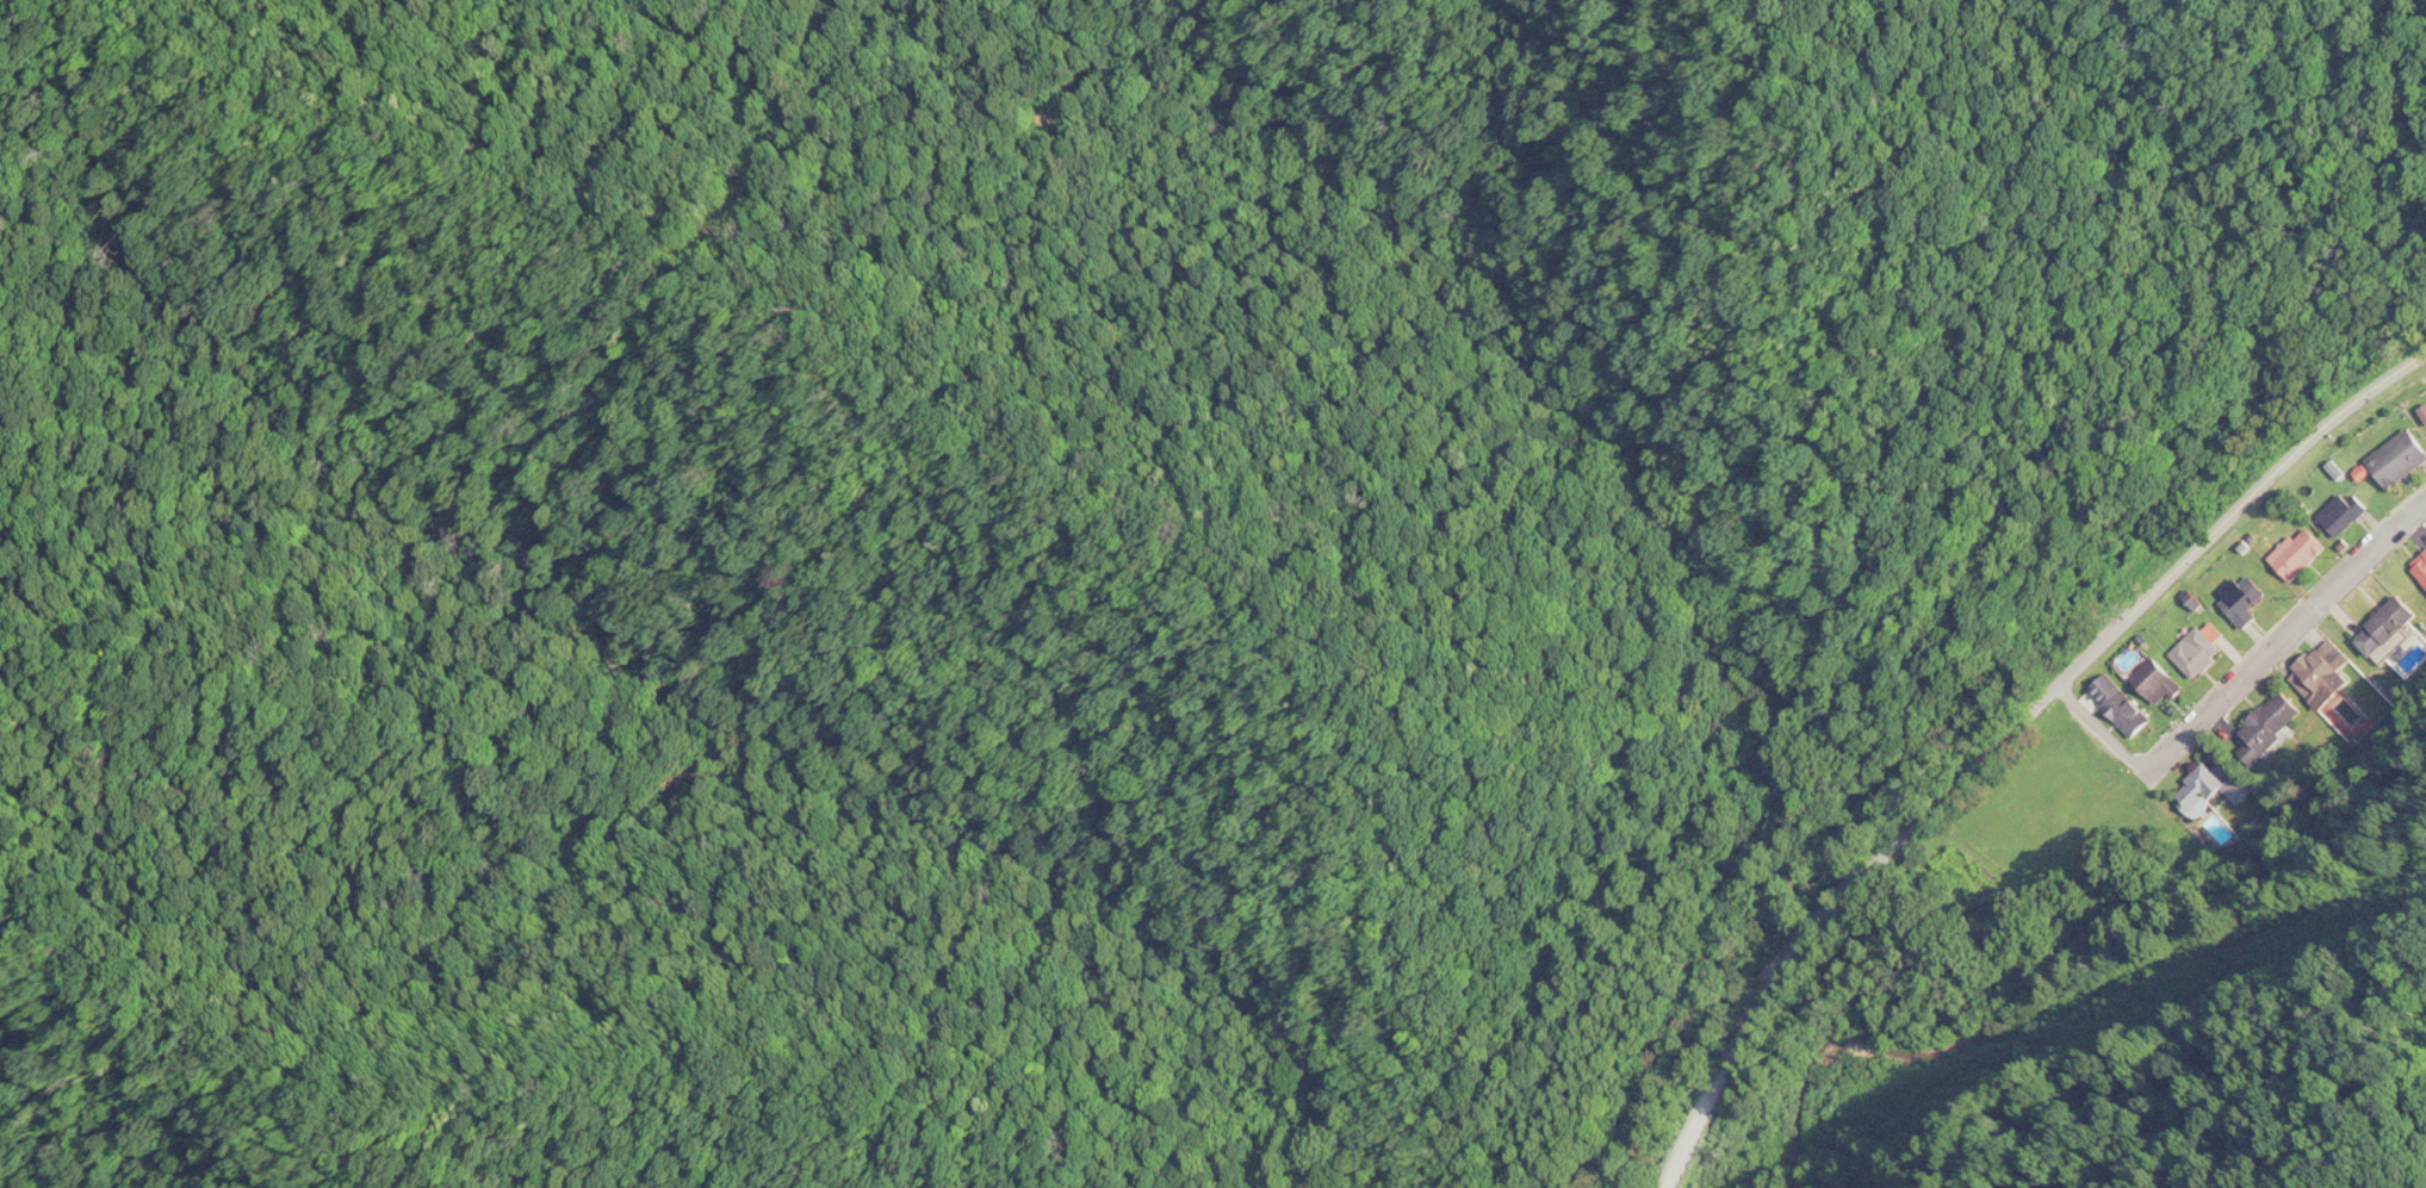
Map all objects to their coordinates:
building: (2425, 411)
building: (2403, 458)
building: (2343, 468)
building: (2371, 472)
building: (2349, 515)
building: (2253, 546)
building: (2307, 554)
building: (2421, 570)
building: (2202, 599)
building: (2250, 599)
building: (2391, 627)
road: (2288, 633)
building: (2207, 649)
building: (2326, 677)
building: (2166, 682)
building: (2128, 705)
road: (2108, 722)
building: (2265, 726)
road: (1998, 744)
building: (2194, 790)

